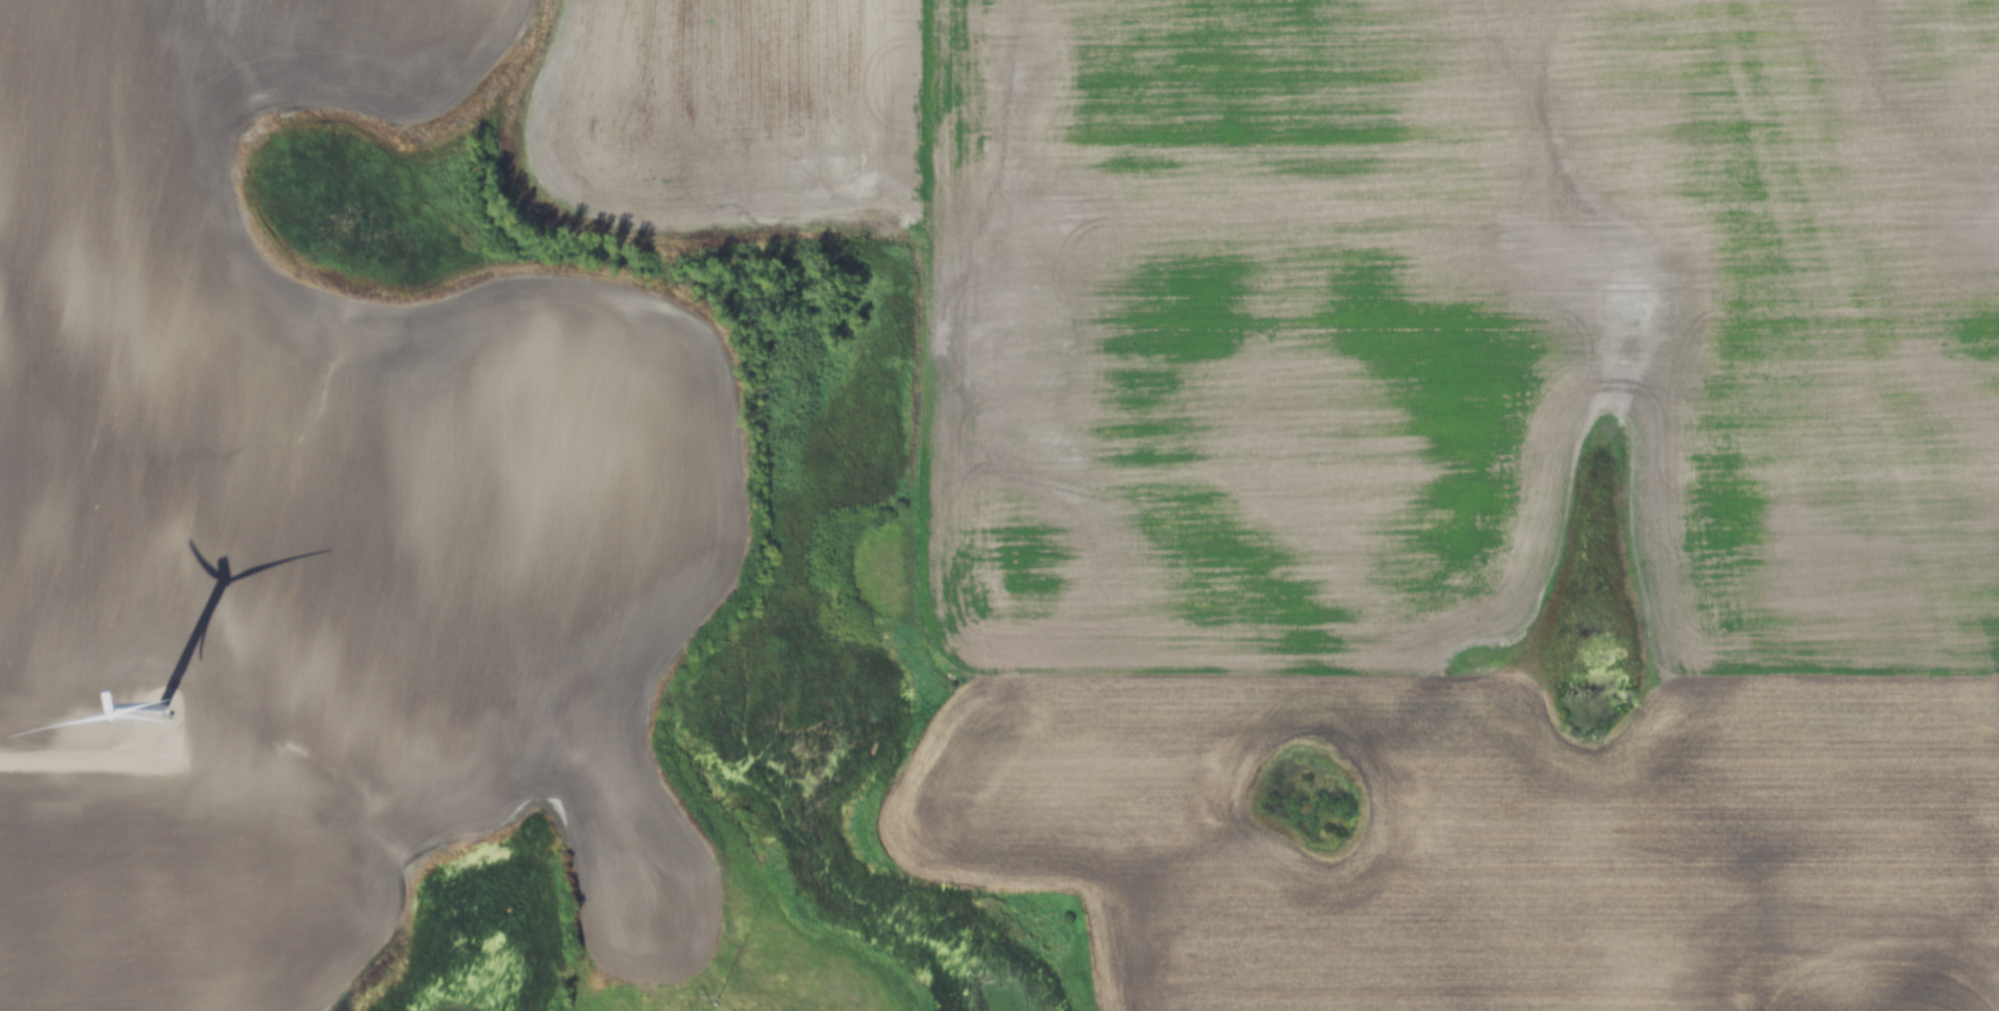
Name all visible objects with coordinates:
wind turbine: (156, 709)
road: (86, 759)

